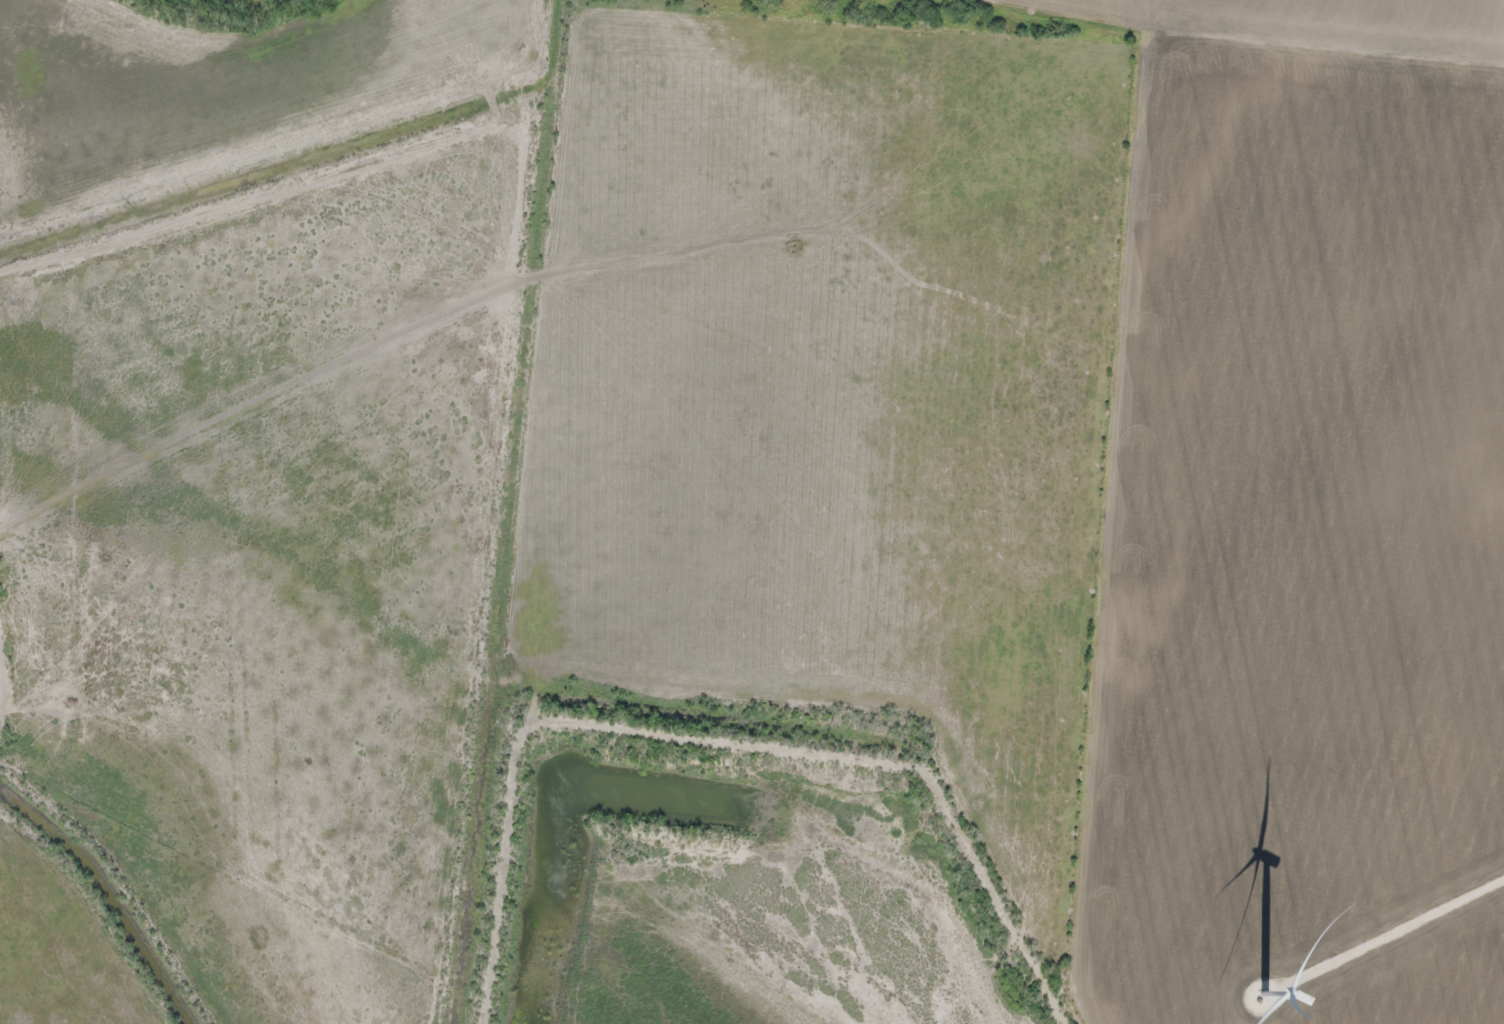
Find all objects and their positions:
wind turbine: (1262, 992)

